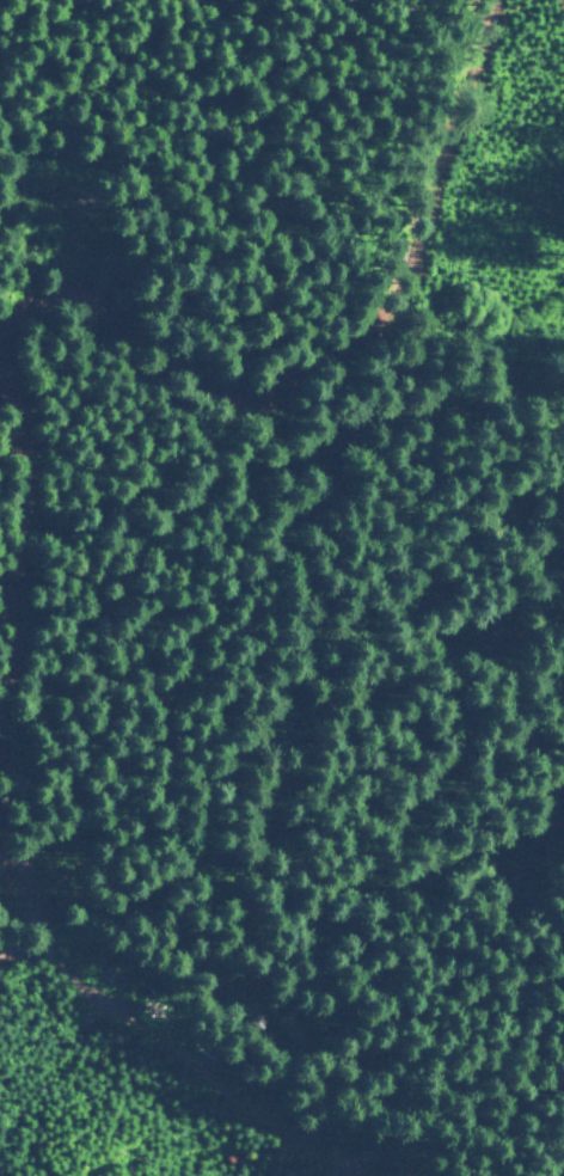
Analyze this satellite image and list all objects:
road: (301, 272)

